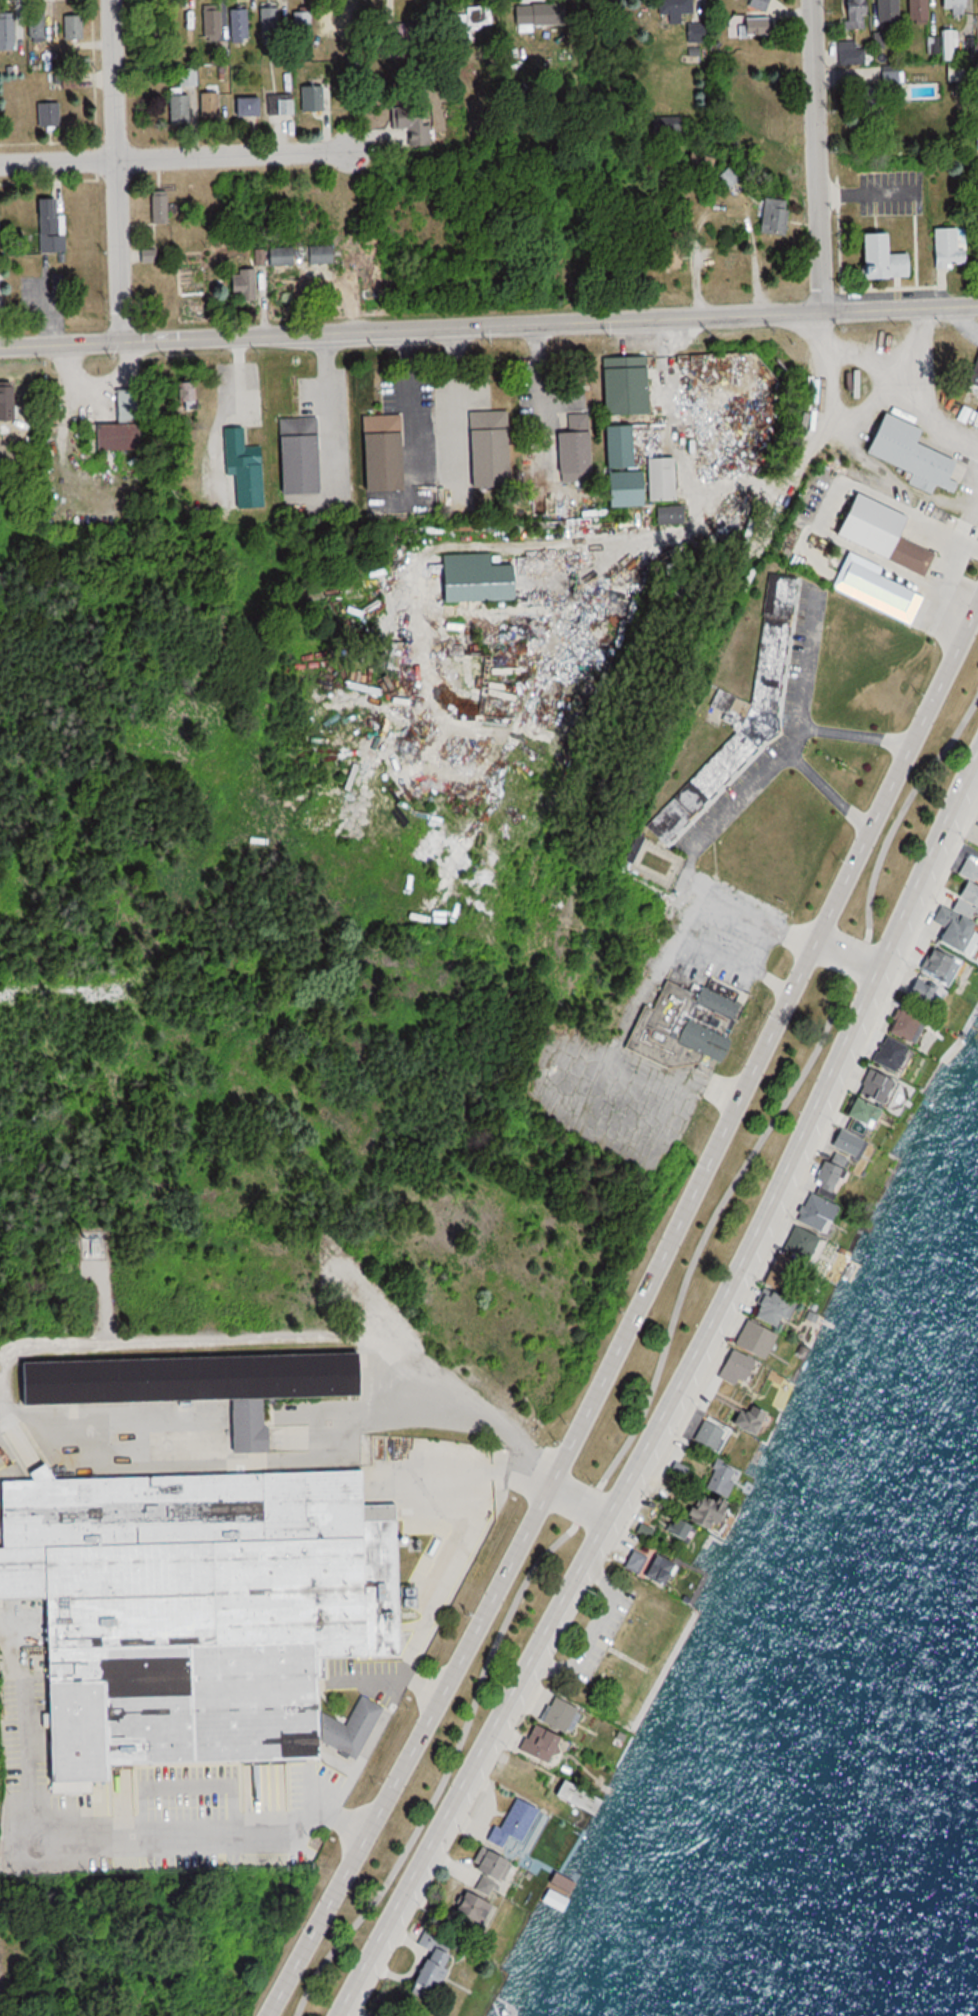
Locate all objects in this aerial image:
building: (760, 4)
building: (957, 6)
building: (676, 10)
building: (891, 10)
building: (921, 11)
building: (856, 14)
building: (474, 20)
building: (176, 21)
building: (214, 22)
building: (272, 22)
building: (304, 23)
building: (240, 24)
building: (38, 25)
building: (76, 26)
building: (750, 26)
building: (698, 32)
building: (8, 33)
building: (405, 39)
building: (848, 52)
building: (957, 71)
building: (188, 76)
building: (315, 97)
building: (282, 103)
building: (212, 104)
building: (252, 106)
building: (181, 108)
building: (52, 114)
building: (414, 122)
road: (817, 156)
road: (175, 158)
building: (705, 164)
road: (118, 170)
building: (730, 179)
building: (162, 208)
building: (776, 216)
building: (0, 217)
building: (51, 228)
building: (953, 247)
building: (677, 254)
building: (324, 255)
building: (284, 256)
building: (261, 257)
building: (889, 258)
building: (247, 285)
road: (900, 308)
road: (411, 329)
building: (972, 374)
building: (621, 380)
building: (189, 395)
building: (8, 404)
road: (330, 404)
building: (124, 423)
building: (612, 446)
building: (484, 447)
building: (570, 450)
building: (905, 453)
building: (303, 455)
building: (392, 469)
building: (245, 470)
building: (657, 479)
building: (621, 484)
building: (876, 532)
building: (885, 591)
road: (808, 665)
building: (735, 724)
road: (857, 736)
road: (829, 792)
road: (751, 914)
road: (667, 941)
road: (847, 957)
road: (731, 964)
building: (678, 1026)
building: (91, 1245)
road: (634, 1317)
road: (657, 1364)
building: (274, 1387)
road: (674, 1392)
road: (477, 1414)
road: (542, 1474)
road: (576, 1507)
road: (447, 1548)
building: (13, 1579)
park: (622, 1655)
road: (364, 1744)
road: (185, 1829)

